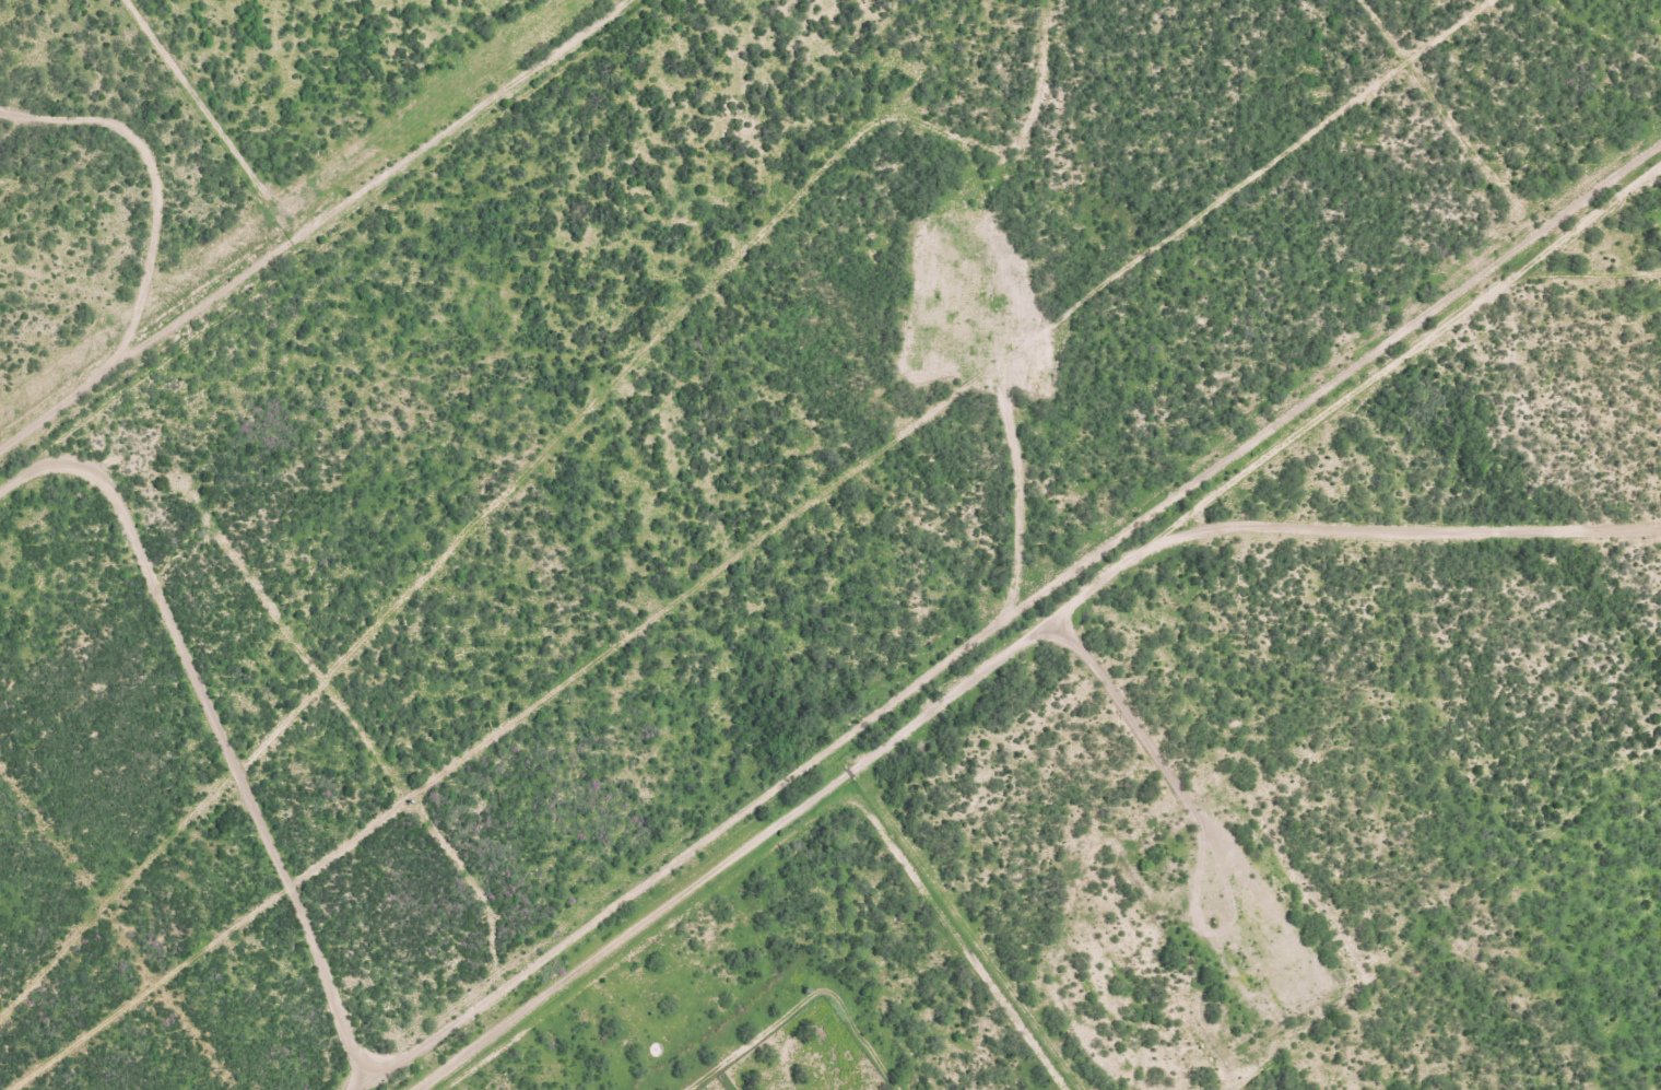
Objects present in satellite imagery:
road: (323, 243)
road: (1046, 665)

